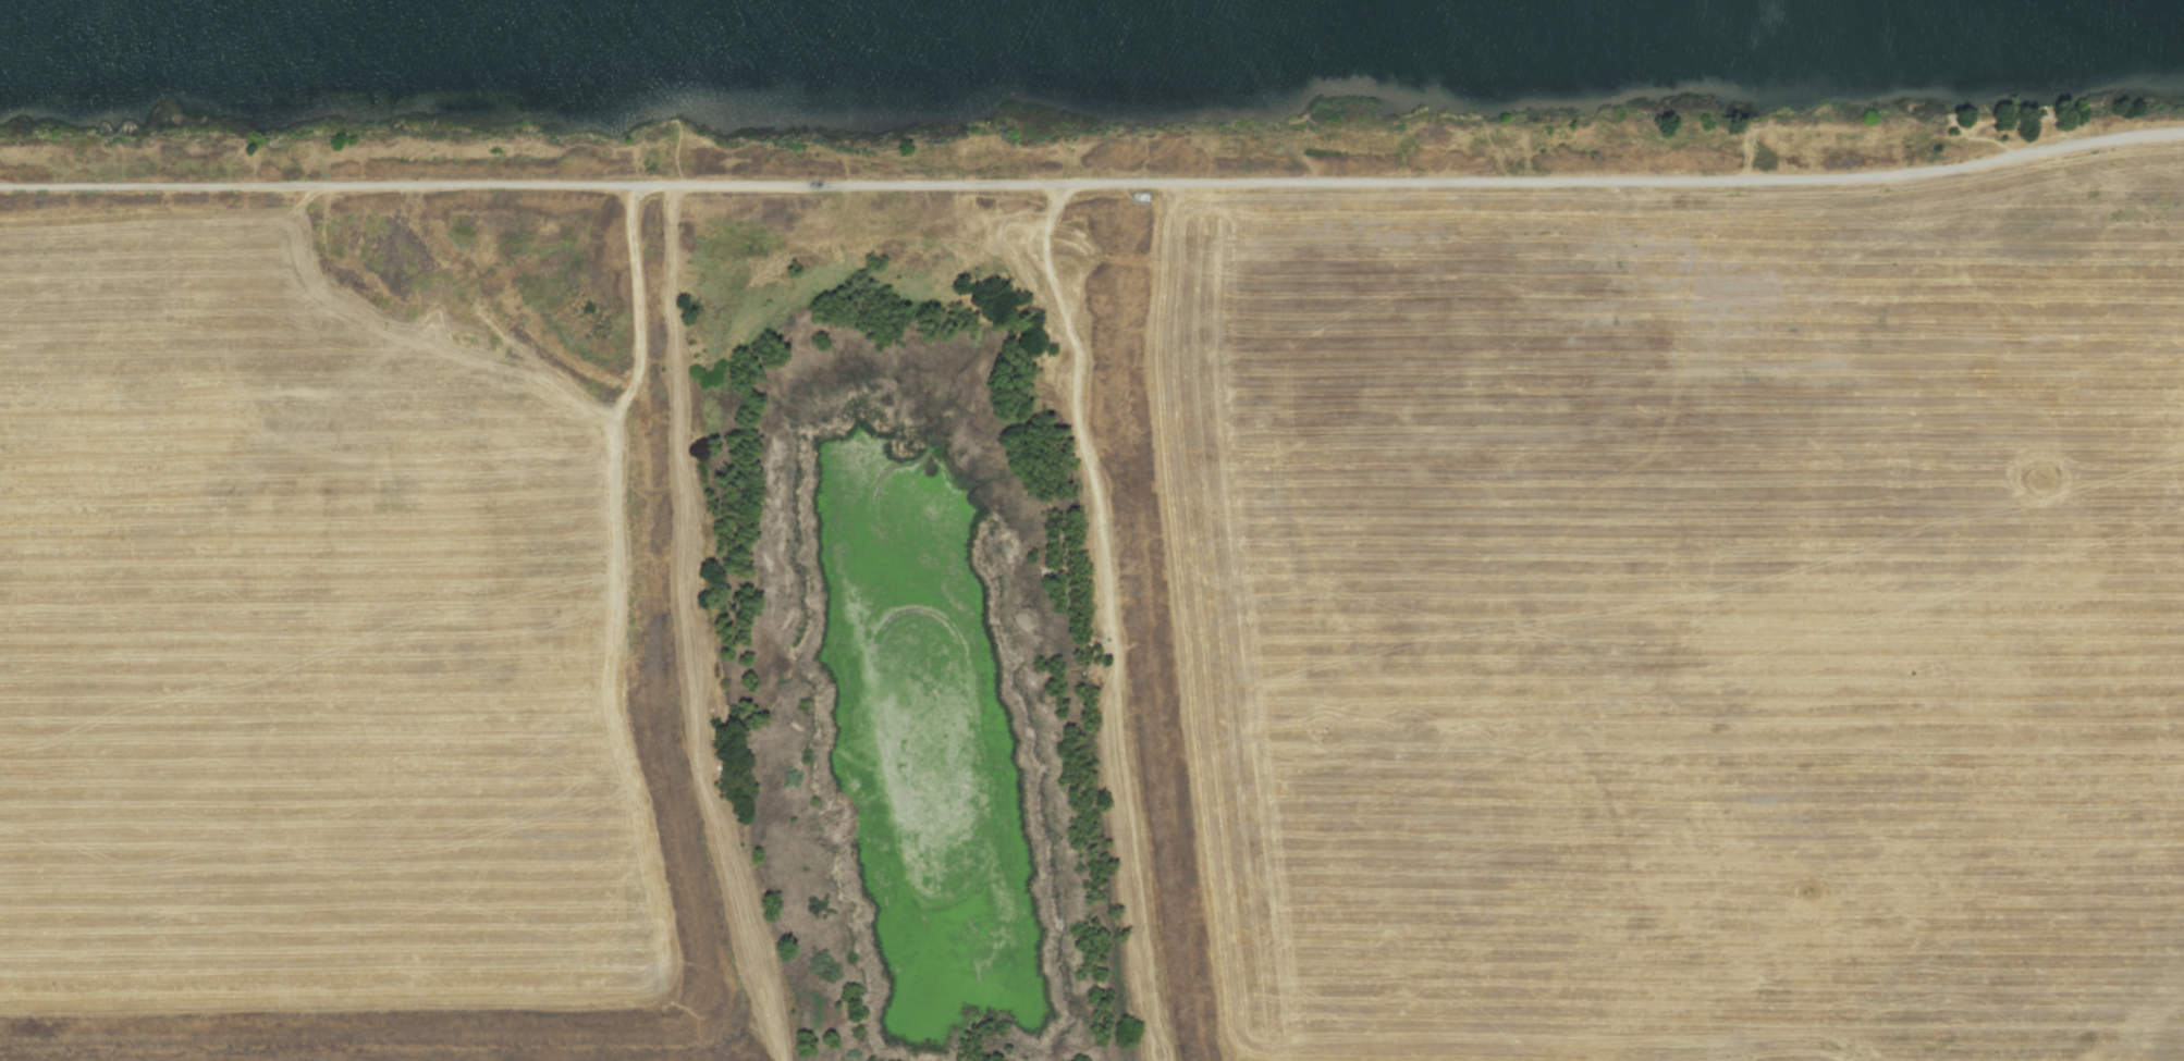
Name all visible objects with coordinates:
road: (1093, 186)
crop: (354, 741)

